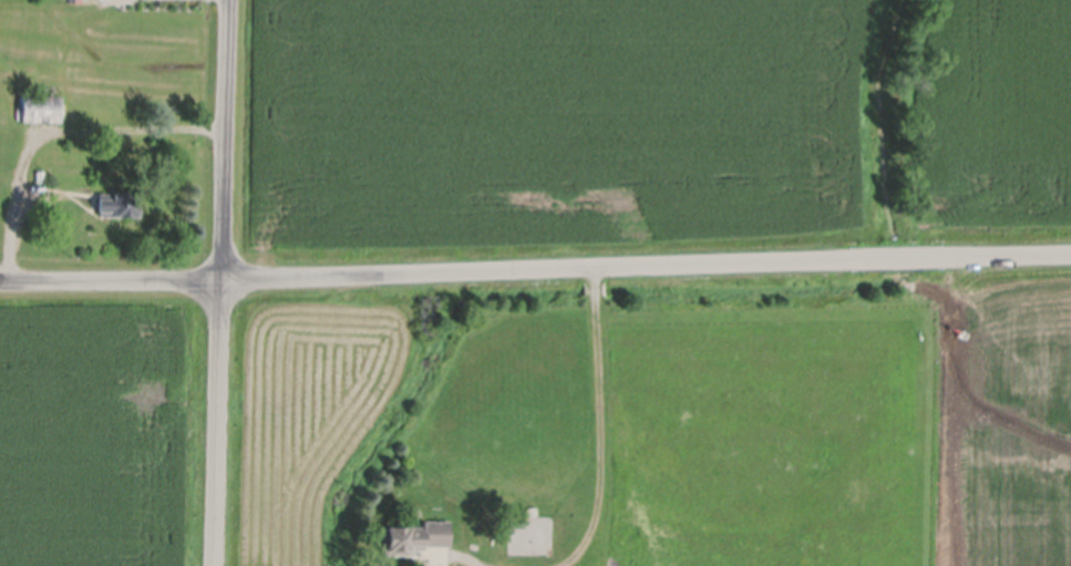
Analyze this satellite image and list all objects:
building: (40, 107)
road: (53, 126)
building: (40, 175)
building: (119, 203)
road: (535, 268)
road: (217, 282)
road: (600, 424)
building: (414, 536)

